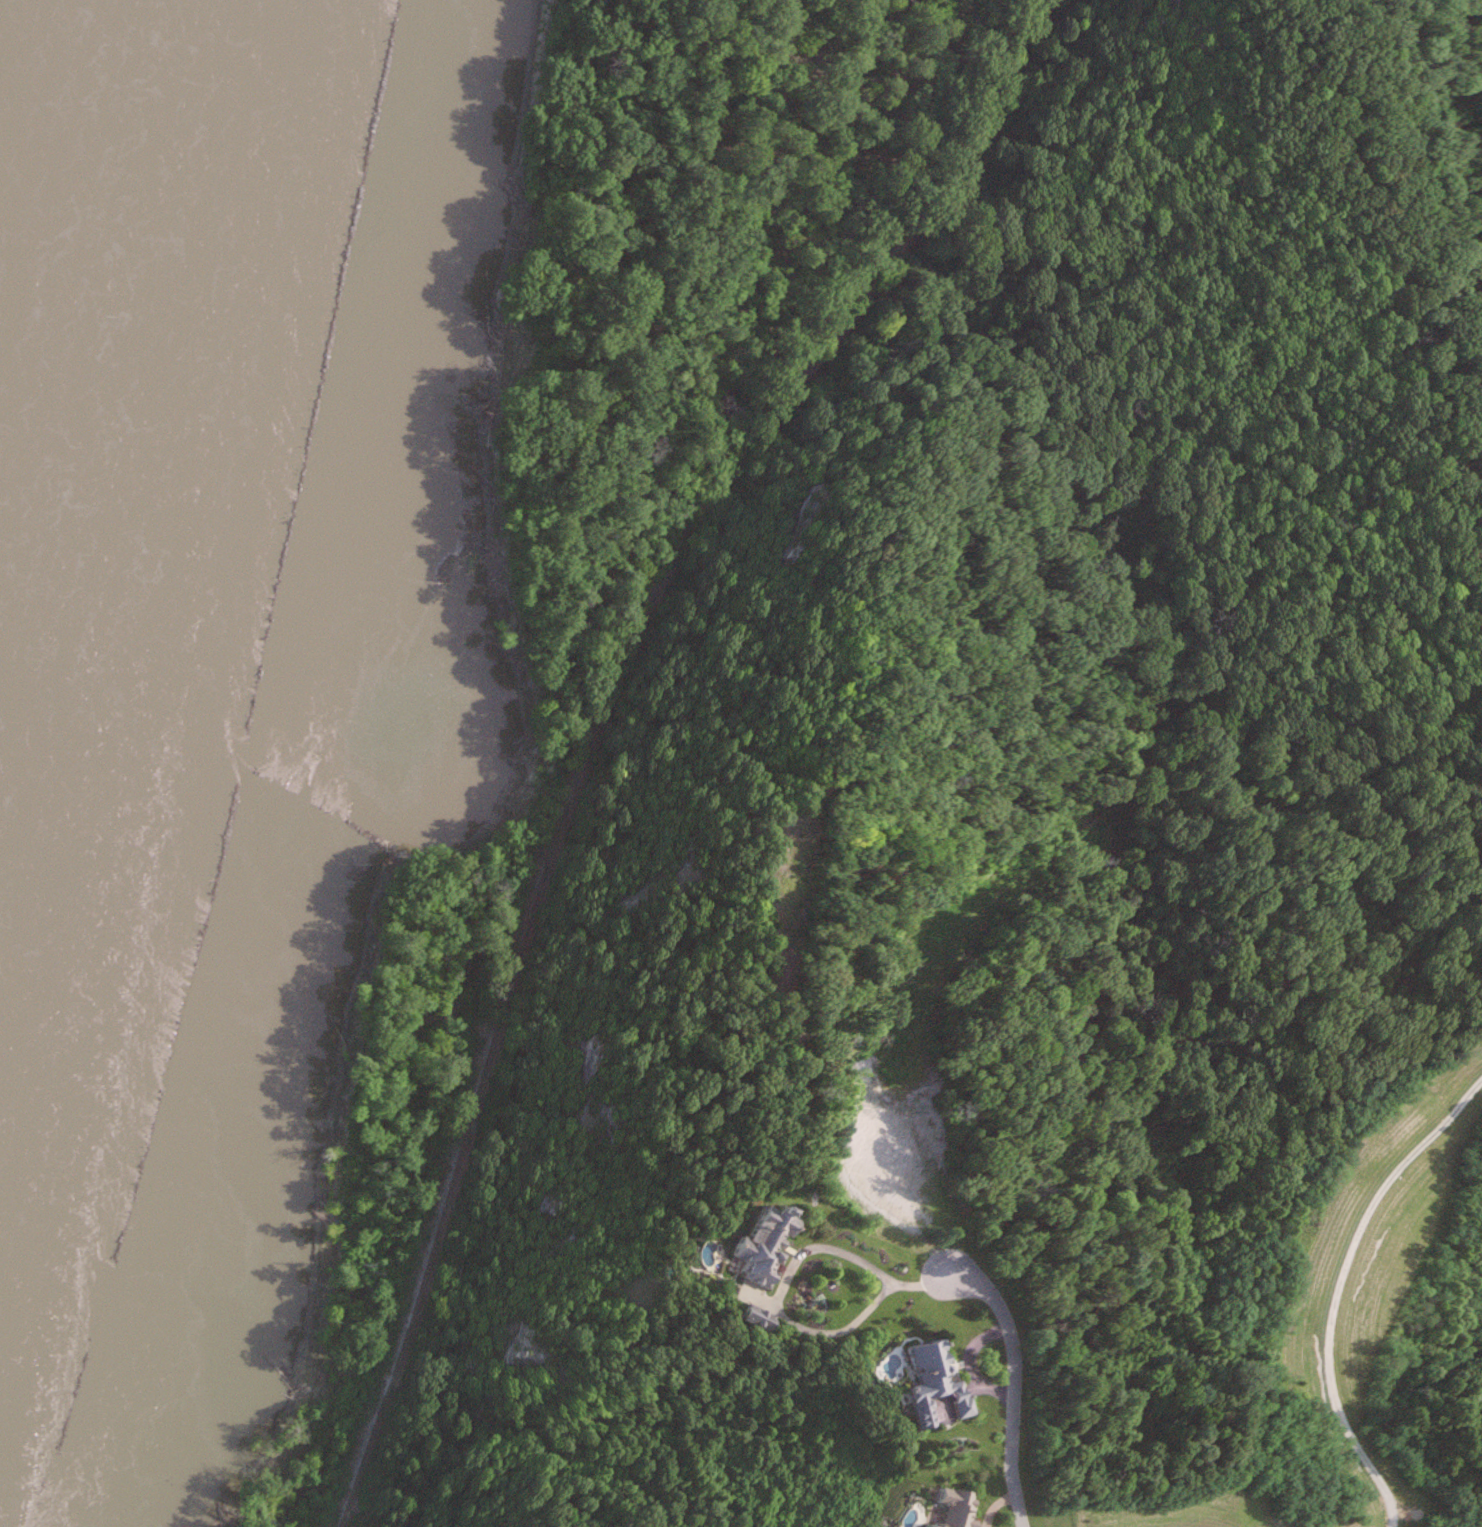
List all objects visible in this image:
railway: (602, 719)
building: (767, 1243)
road: (1327, 1287)
building: (759, 1316)
road: (793, 1321)
building: (939, 1383)
road: (1013, 1389)
building: (953, 1508)

